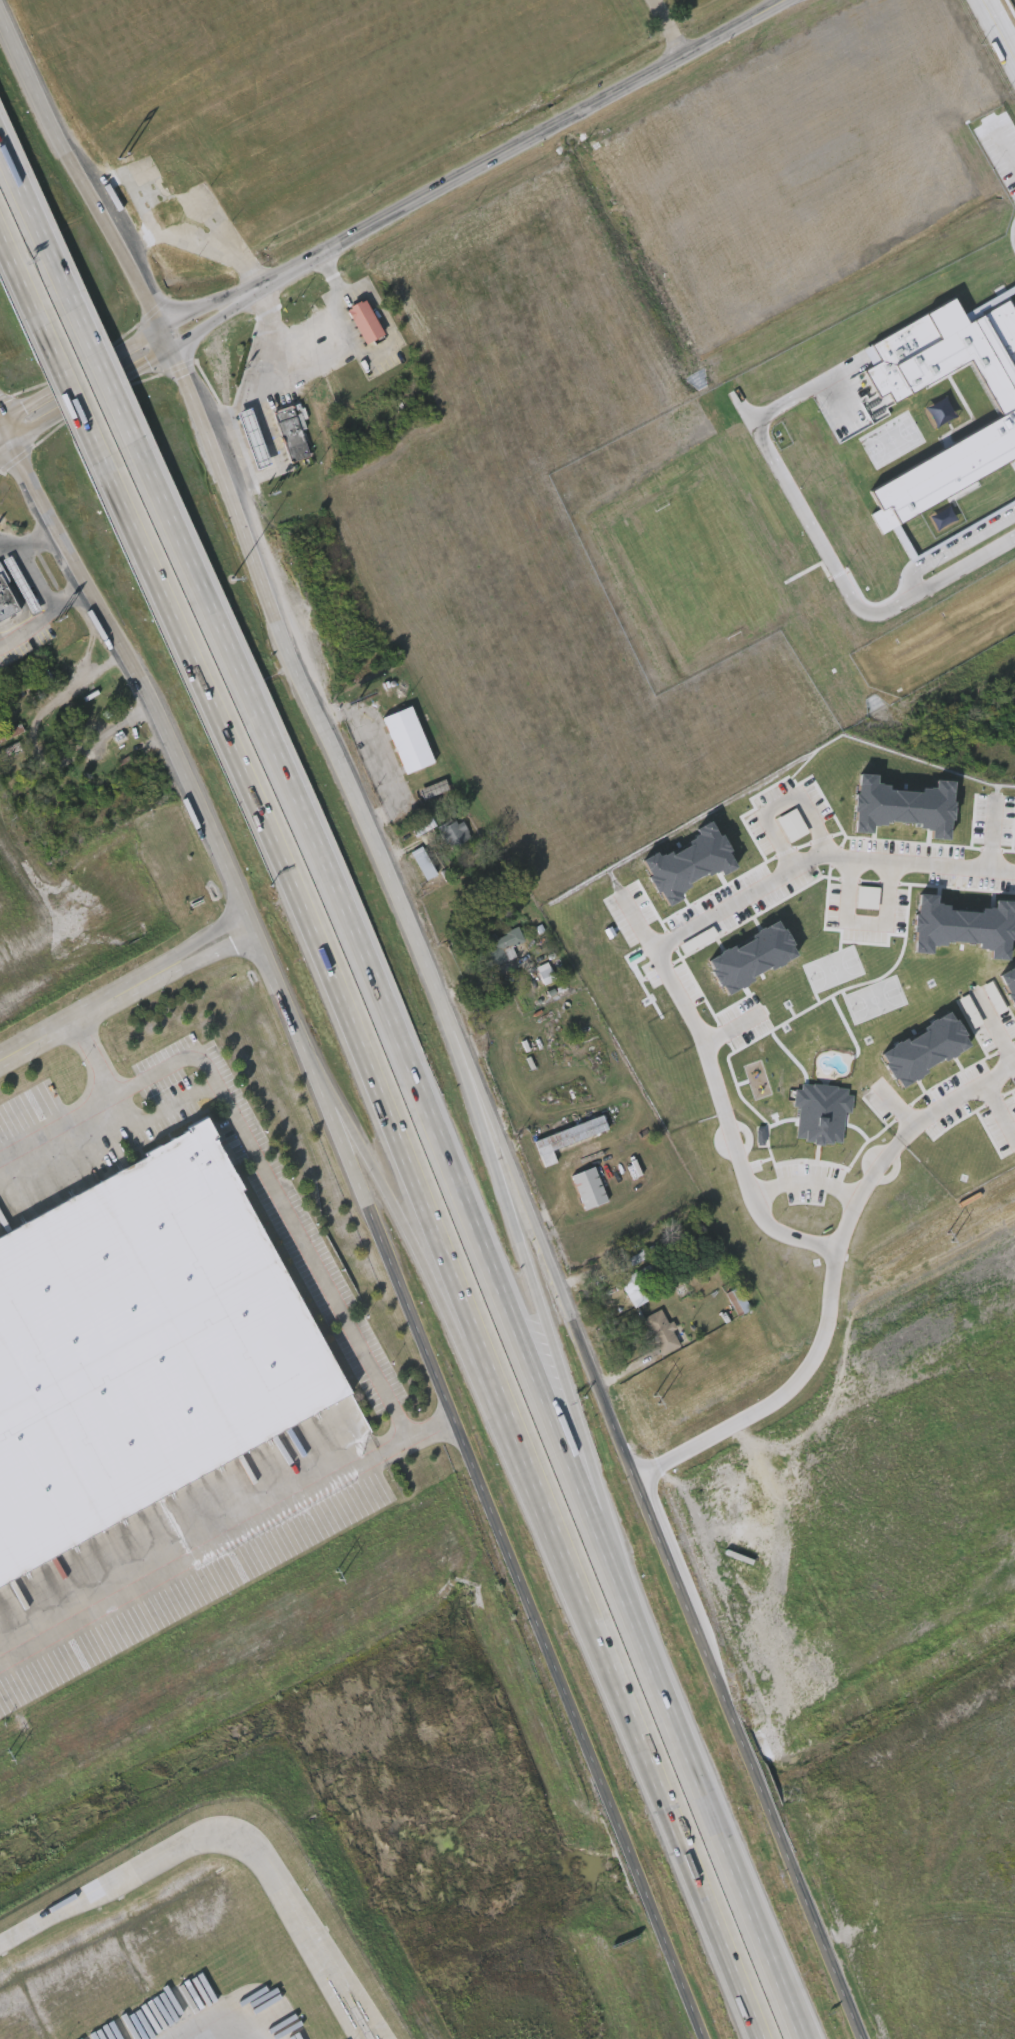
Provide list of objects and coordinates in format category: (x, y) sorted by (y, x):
road: (667, 26)
road: (997, 34)
building: (972, 126)
road: (1001, 144)
road: (514, 145)
road: (46, 238)
road: (115, 239)
road: (30, 288)
building: (361, 320)
road: (272, 329)
road: (121, 343)
road: (313, 359)
road: (131, 366)
road: (109, 374)
road: (801, 387)
road: (78, 391)
building: (1005, 411)
road: (3, 430)
building: (291, 432)
building: (253, 438)
gas station: (253, 438)
road: (3, 442)
road: (805, 522)
road: (28, 540)
road: (952, 546)
road: (961, 565)
road: (38, 576)
building: (21, 584)
building: (7, 598)
road: (44, 614)
building: (37, 681)
road: (166, 734)
building: (403, 738)
road: (347, 768)
building: (433, 790)
road: (781, 800)
building: (903, 807)
building: (423, 826)
building: (792, 826)
road: (993, 832)
building: (454, 834)
road: (823, 857)
building: (423, 864)
building: (688, 864)
building: (867, 898)
road: (865, 922)
building: (962, 927)
road: (205, 936)
building: (498, 944)
road: (212, 954)
building: (752, 957)
building: (544, 972)
building: (1009, 983)
road: (346, 986)
road: (684, 1004)
road: (84, 1008)
road: (392, 1023)
road: (998, 1029)
building: (924, 1050)
road: (90, 1055)
road: (955, 1099)
building: (821, 1113)
road: (997, 1113)
building: (563, 1136)
road: (810, 1181)
building: (586, 1185)
road: (758, 1201)
power tower: (947, 1236)
building: (630, 1260)
building: (641, 1283)
road: (440, 1294)
building: (737, 1299)
building: (661, 1331)
road: (815, 1346)
building: (140, 1348)
road: (559, 1354)
road: (363, 1355)
power tower: (651, 1400)
road: (430, 1429)
road: (499, 1541)
road: (668, 1552)
power tower: (348, 1568)
building: (0, 1608)
road: (642, 1715)
power tower: (18, 1750)
road: (225, 1835)
road: (727, 1840)
road: (733, 1959)
road: (739, 1959)
road: (224, 2027)

